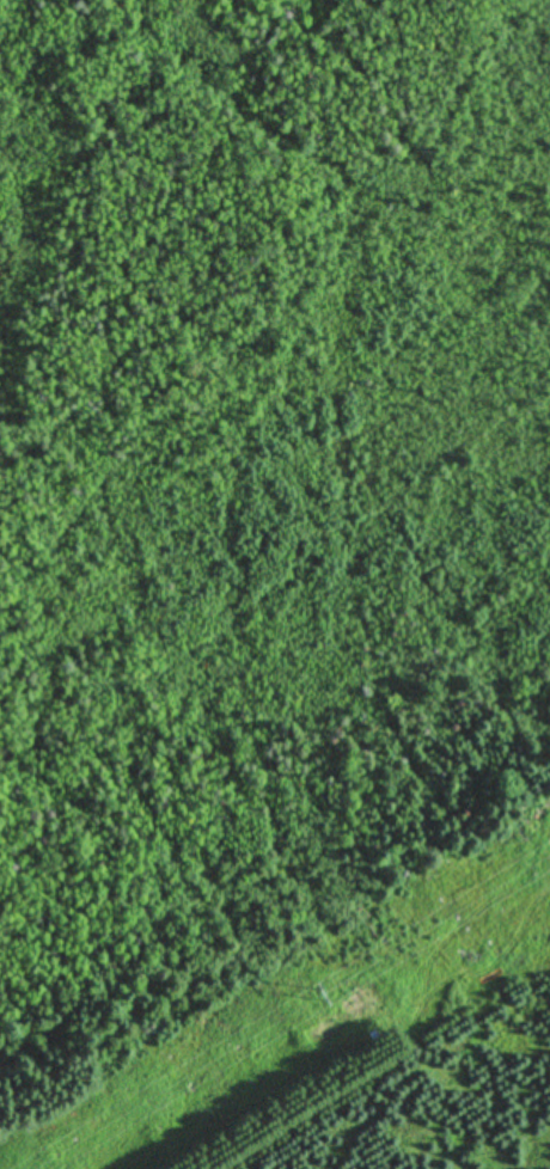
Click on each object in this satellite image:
power tower: (318, 996)

